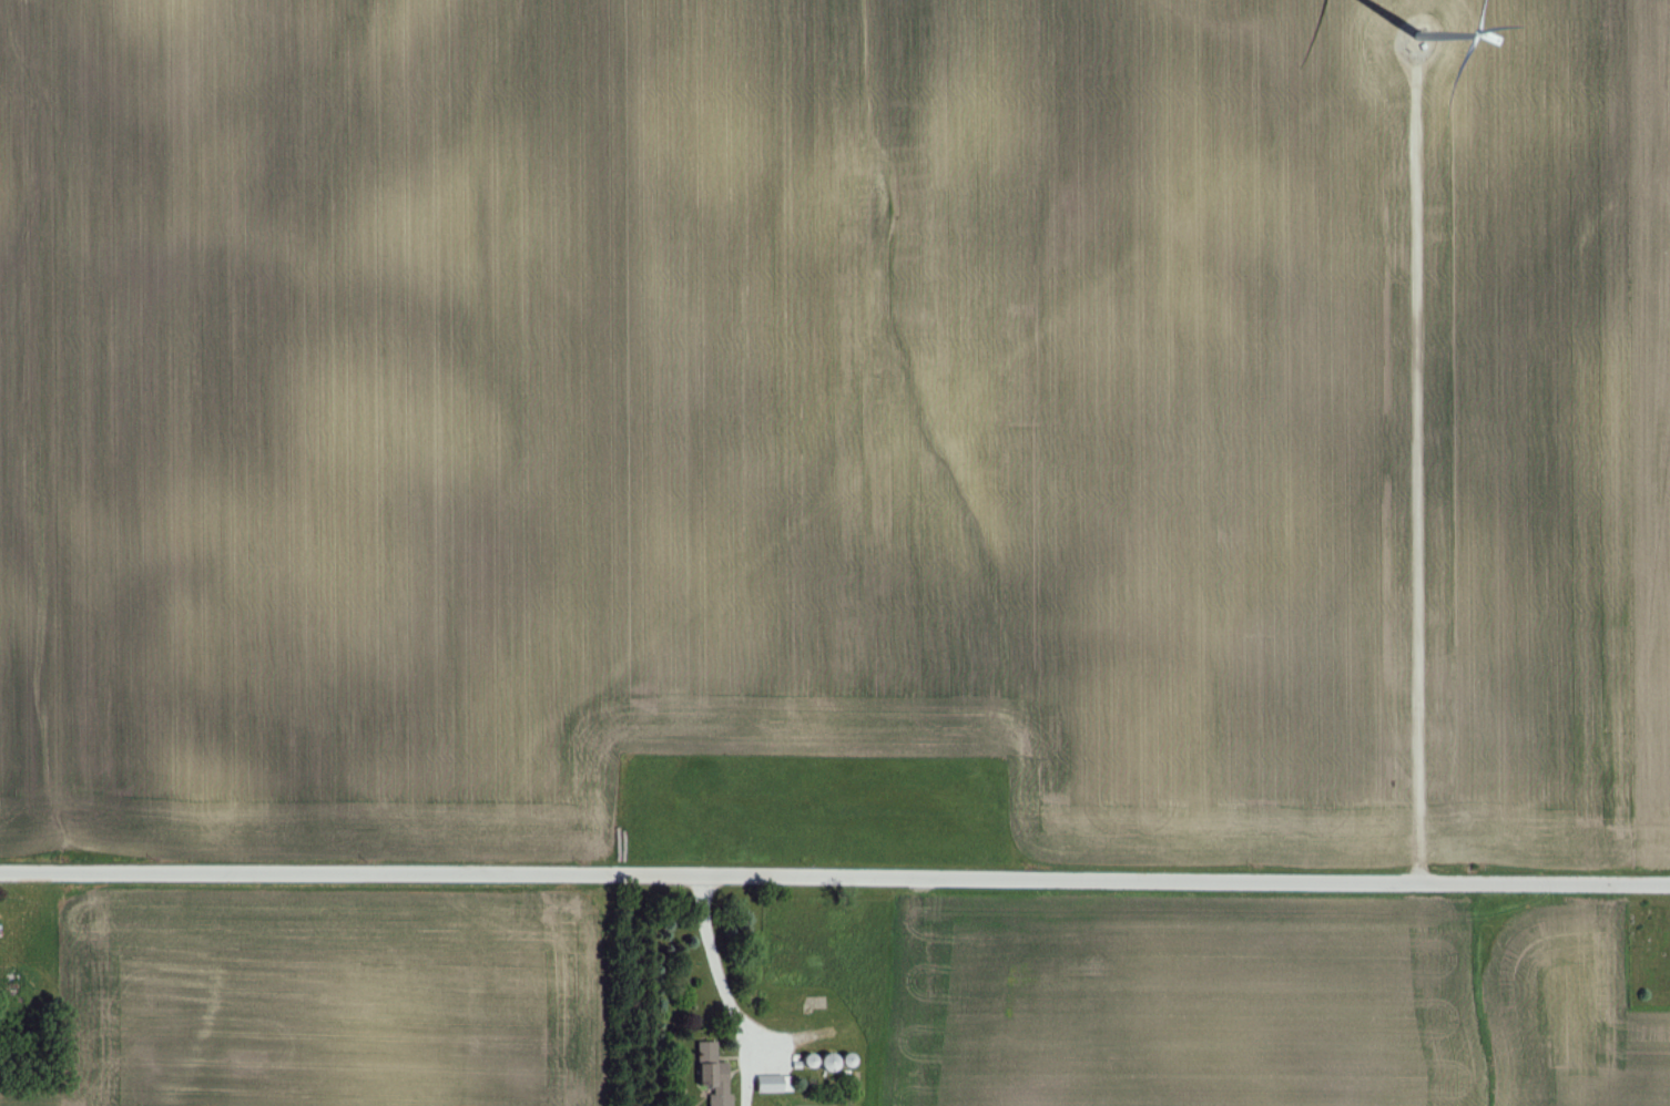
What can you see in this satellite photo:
wind turbine: (1419, 38)
road: (835, 873)
park: (1647, 955)
road: (724, 990)

